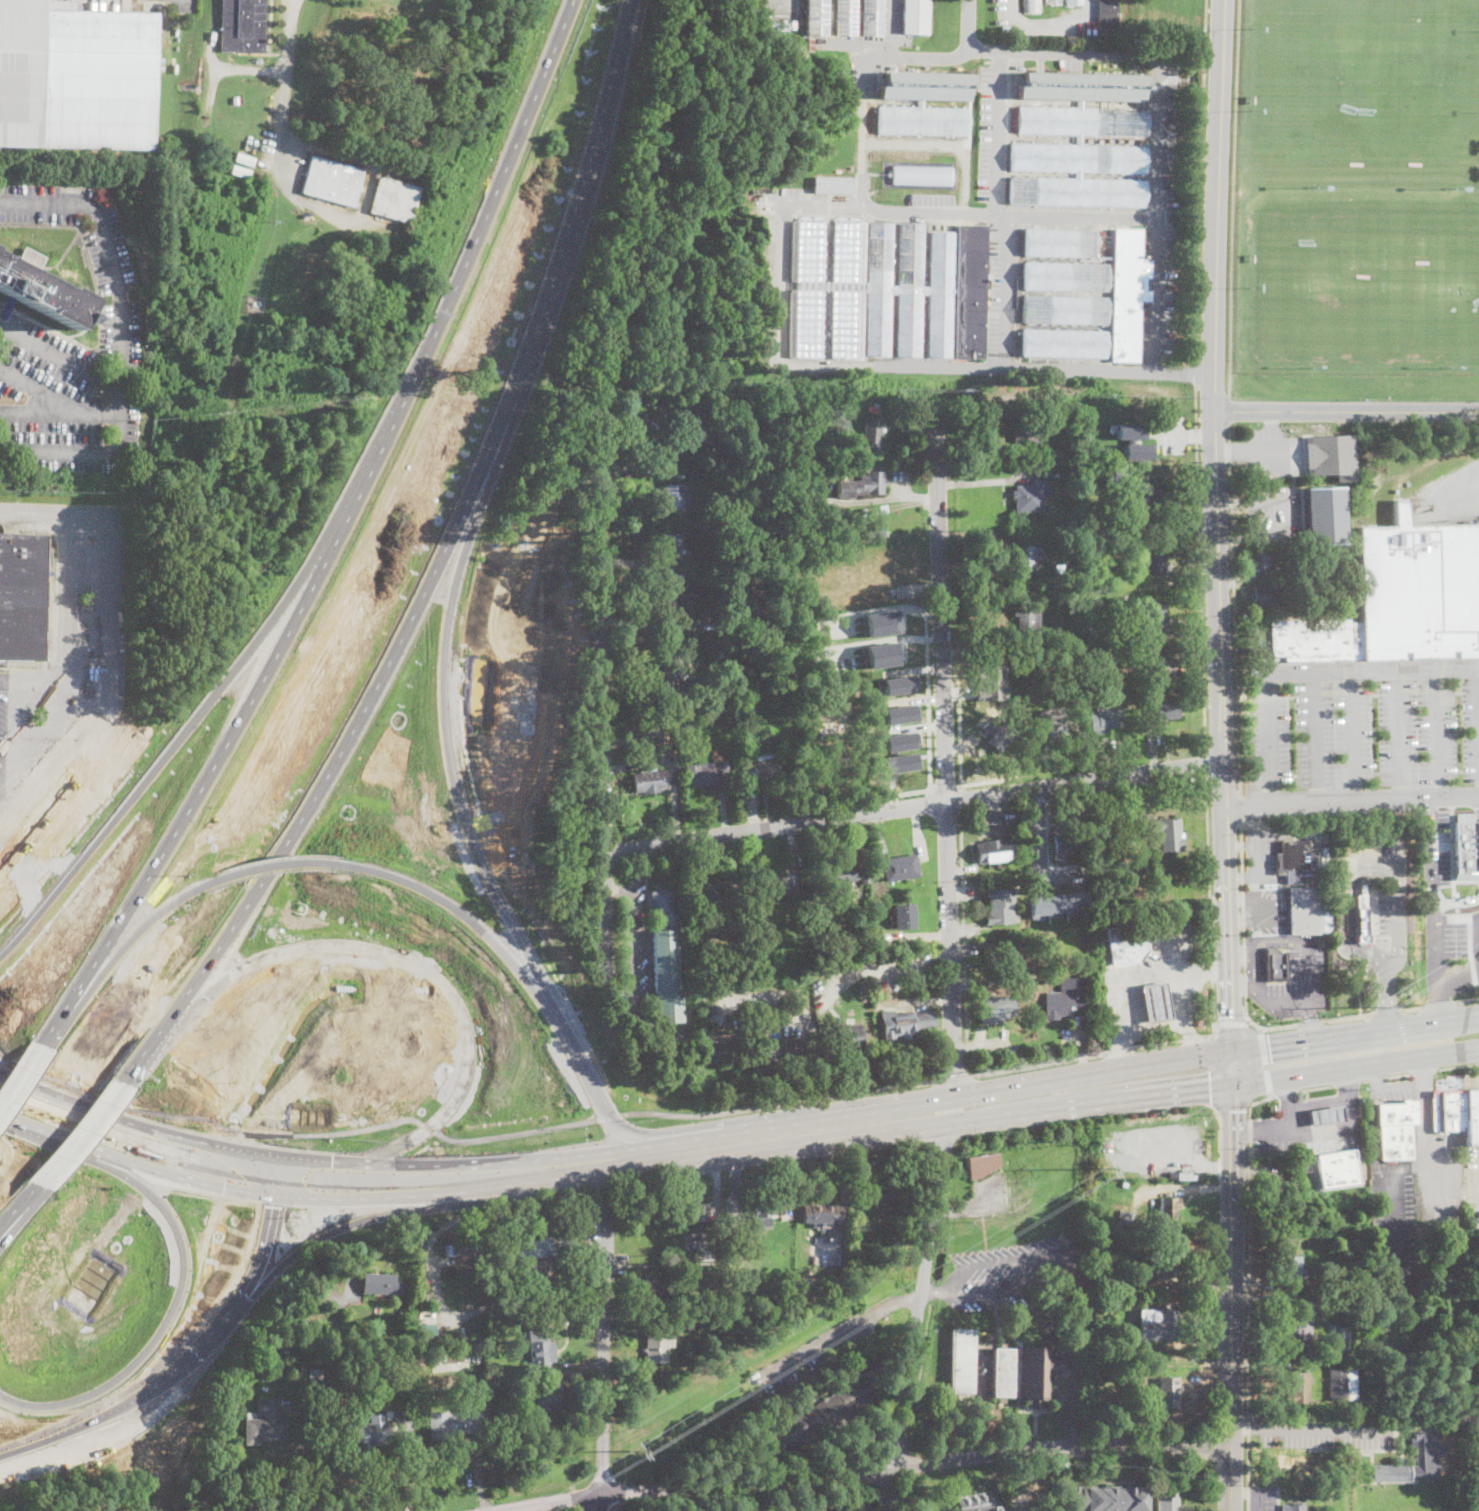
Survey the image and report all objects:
building: (1074, 1)
building: (1053, 2)
road: (777, 3)
building: (1032, 6)
road: (761, 8)
building: (1108, 13)
building: (916, 16)
building: (818, 17)
building: (847, 17)
building: (873, 17)
building: (777, 24)
road: (969, 24)
road: (1049, 24)
building: (243, 26)
road: (892, 28)
road: (845, 43)
road: (1147, 53)
park: (1367, 61)
building: (76, 77)
park: (401, 80)
building: (927, 86)
building: (1082, 86)
road: (285, 92)
building: (236, 101)
building: (923, 119)
building: (1014, 120)
parking lot: (991, 132)
road: (999, 132)
road: (861, 134)
road: (942, 152)
building: (1080, 156)
building: (244, 158)
building: (240, 170)
building: (921, 174)
road: (1198, 179)
building: (333, 180)
building: (833, 185)
road: (1232, 198)
building: (395, 199)
parking lot: (930, 199)
road: (814, 204)
parking lot: (1163, 208)
road: (782, 212)
road: (995, 213)
building: (1103, 233)
building: (1060, 242)
building: (1066, 276)
park: (1369, 288)
building: (870, 289)
building: (42, 290)
building: (971, 291)
road: (1008, 291)
building: (1127, 294)
building: (1065, 309)
road: (780, 338)
road: (122, 342)
building: (1064, 343)
road: (61, 357)
road: (1044, 368)
road: (1196, 372)
road: (58, 401)
building: (873, 408)
road: (1346, 410)
road: (1229, 411)
road: (40, 412)
building: (1027, 426)
building: (696, 428)
building: (1131, 430)
building: (872, 432)
building: (1140, 451)
parking lot: (1271, 451)
building: (1330, 456)
building: (838, 457)
building: (829, 458)
building: (1064, 475)
building: (861, 485)
building: (1029, 497)
building: (675, 499)
building: (811, 501)
building: (1151, 501)
parking lot: (1270, 510)
building: (801, 515)
building: (1325, 516)
building: (875, 521)
road: (1215, 534)
road: (333, 535)
building: (671, 549)
building: (1116, 550)
building: (1028, 556)
building: (1152, 559)
building: (1263, 563)
road: (431, 566)
building: (781, 568)
building: (845, 569)
road: (1199, 569)
building: (1284, 574)
building: (1418, 590)
parking lot: (87, 593)
building: (754, 594)
building: (22, 595)
building: (1047, 595)
building: (1264, 596)
road: (55, 597)
building: (1124, 598)
building: (792, 600)
road: (886, 606)
building: (672, 608)
road: (1234, 609)
building: (880, 621)
building: (1027, 621)
building: (1156, 622)
building: (1094, 633)
road: (880, 638)
building: (1316, 639)
road: (110, 644)
building: (719, 653)
building: (881, 653)
building: (1153, 659)
building: (1039, 664)
building: (674, 668)
road: (914, 669)
building: (1147, 670)
road: (1305, 670)
road: (187, 675)
building: (1111, 679)
road: (54, 680)
building: (989, 680)
building: (902, 684)
building: (703, 685)
building: (836, 696)
road: (600, 699)
road: (913, 701)
road: (928, 701)
building: (1159, 705)
building: (903, 712)
building: (1105, 718)
building: (1052, 723)
road: (917, 727)
building: (646, 729)
building: (998, 730)
parking lot: (1358, 731)
road: (1436, 733)
road: (1399, 734)
road: (1354, 735)
road: (1315, 736)
building: (904, 740)
parking lot: (46, 742)
building: (830, 752)
building: (673, 754)
road: (16, 757)
road: (943, 758)
building: (904, 761)
road: (960, 761)
road: (1206, 764)
building: (762, 767)
building: (702, 773)
building: (650, 780)
road: (948, 784)
road: (915, 791)
road: (434, 795)
road: (894, 795)
road: (961, 797)
road: (929, 798)
road: (1351, 801)
road: (1040, 805)
road: (1240, 808)
road: (913, 809)
road: (995, 812)
parking lot: (996, 821)
building: (1168, 834)
building: (1067, 841)
building: (1465, 844)
building: (994, 850)
road: (1431, 850)
parking lot: (1437, 851)
parking lot: (1259, 855)
road: (639, 858)
building: (1295, 860)
road: (1359, 864)
building: (901, 867)
road: (1040, 867)
road: (1206, 867)
building: (853, 874)
parking lot: (1055, 875)
building: (1319, 877)
parking lot: (1387, 884)
building: (775, 887)
road: (616, 889)
road: (962, 894)
building: (709, 895)
road: (1351, 899)
road: (1458, 901)
building: (1057, 902)
building: (999, 906)
parking lot: (1266, 910)
building: (1305, 911)
road: (1456, 916)
building: (903, 917)
building: (1362, 917)
road: (1242, 920)
parking lot: (1462, 938)
building: (1129, 942)
road: (630, 945)
road: (1476, 945)
parking lot: (635, 951)
road: (1370, 952)
building: (1009, 954)
road: (1240, 954)
building: (666, 958)
road: (1309, 959)
road: (1434, 962)
road: (888, 963)
building: (1275, 966)
road: (1211, 968)
road: (1252, 968)
road: (1127, 976)
road: (1456, 978)
road: (1240, 983)
parking lot: (1301, 983)
building: (863, 990)
road: (1360, 990)
building: (1065, 997)
road: (1213, 999)
road: (1387, 999)
road: (1468, 999)
building: (1157, 1001)
road: (1276, 1003)
power tower: (1376, 1003)
road: (1440, 1004)
building: (997, 1008)
road: (1413, 1008)
road: (1386, 1012)
road: (1189, 1013)
traffic signals: (1230, 1016)
road: (1231, 1019)
road: (1348, 1019)
building: (904, 1023)
road: (1313, 1023)
road: (1273, 1026)
building: (845, 1039)
traffic signals: (1270, 1046)
building: (710, 1049)
building: (781, 1050)
building: (727, 1051)
road: (1101, 1051)
road: (1265, 1062)
road: (1450, 1065)
road: (1214, 1073)
road: (1398, 1074)
road: (953, 1075)
road: (22, 1077)
road: (1345, 1081)
road: (1348, 1083)
road: (1316, 1086)
road: (1007, 1088)
traffic signals: (1209, 1091)
road: (326, 1092)
road: (1285, 1092)
road: (1287, 1092)
road: (790, 1101)
road: (1233, 1106)
traffic signals: (1234, 1109)
building: (1456, 1112)
building: (1326, 1114)
gas station: (1328, 1114)
road: (1352, 1114)
road: (1009, 1117)
road: (166, 1128)
building: (1396, 1129)
road: (1246, 1131)
road: (82, 1133)
road: (161, 1164)
traffic signals: (305, 1165)
building: (982, 1165)
power tower: (1106, 1165)
road: (1402, 1166)
building: (1337, 1169)
road: (431, 1172)
building: (1173, 1174)
traffic signals: (350, 1175)
building: (1184, 1176)
road: (1446, 1185)
road: (1181, 1187)
building: (1273, 1187)
building: (878, 1191)
road: (433, 1195)
traffic signals: (195, 1203)
road: (969, 1205)
road: (21, 1207)
building: (767, 1208)
building: (1170, 1208)
building: (696, 1211)
building: (821, 1214)
building: (1131, 1219)
road: (1391, 1229)
parking lot: (1395, 1232)
road: (210, 1237)
building: (1062, 1240)
building: (744, 1244)
building: (463, 1246)
road: (297, 1248)
building: (541, 1248)
road: (1069, 1262)
building: (1166, 1262)
building: (1290, 1267)
parking lot: (1005, 1273)
building: (381, 1283)
building: (1283, 1286)
building: (650, 1289)
road: (1231, 1289)
road: (934, 1293)
road: (1250, 1296)
road: (916, 1318)
building: (1158, 1324)
building: (427, 1330)
building: (1298, 1330)
road: (840, 1331)
building: (540, 1349)
building: (1385, 1349)
building: (657, 1350)
building: (1368, 1350)
building: (457, 1355)
building: (435, 1357)
road: (602, 1357)
building: (963, 1361)
road: (1077, 1361)
building: (1003, 1373)
building: (1038, 1375)
building: (315, 1377)
building: (1342, 1383)
building: (1298, 1388)
building: (1168, 1392)
road: (124, 1394)
building: (540, 1397)
building: (824, 1413)
building: (265, 1423)
building: (454, 1423)
road: (1243, 1426)
road: (1325, 1427)
building: (372, 1432)
parking lot: (1326, 1433)
power tower: (638, 1446)
road: (1216, 1451)
road: (1144, 1454)
road: (326, 1456)
building: (1427, 1458)
road: (409, 1466)
road: (1055, 1466)
road: (858, 1478)
building: (1298, 1490)
road: (1243, 1493)
building: (1108, 1498)
parking lot: (1262, 1498)
road: (1257, 1499)
building: (974, 1502)
building: (1045, 1502)
building: (1169, 1502)
road: (588, 1504)
building: (1293, 1507)
building: (999, 1508)
building: (1033, 1509)

